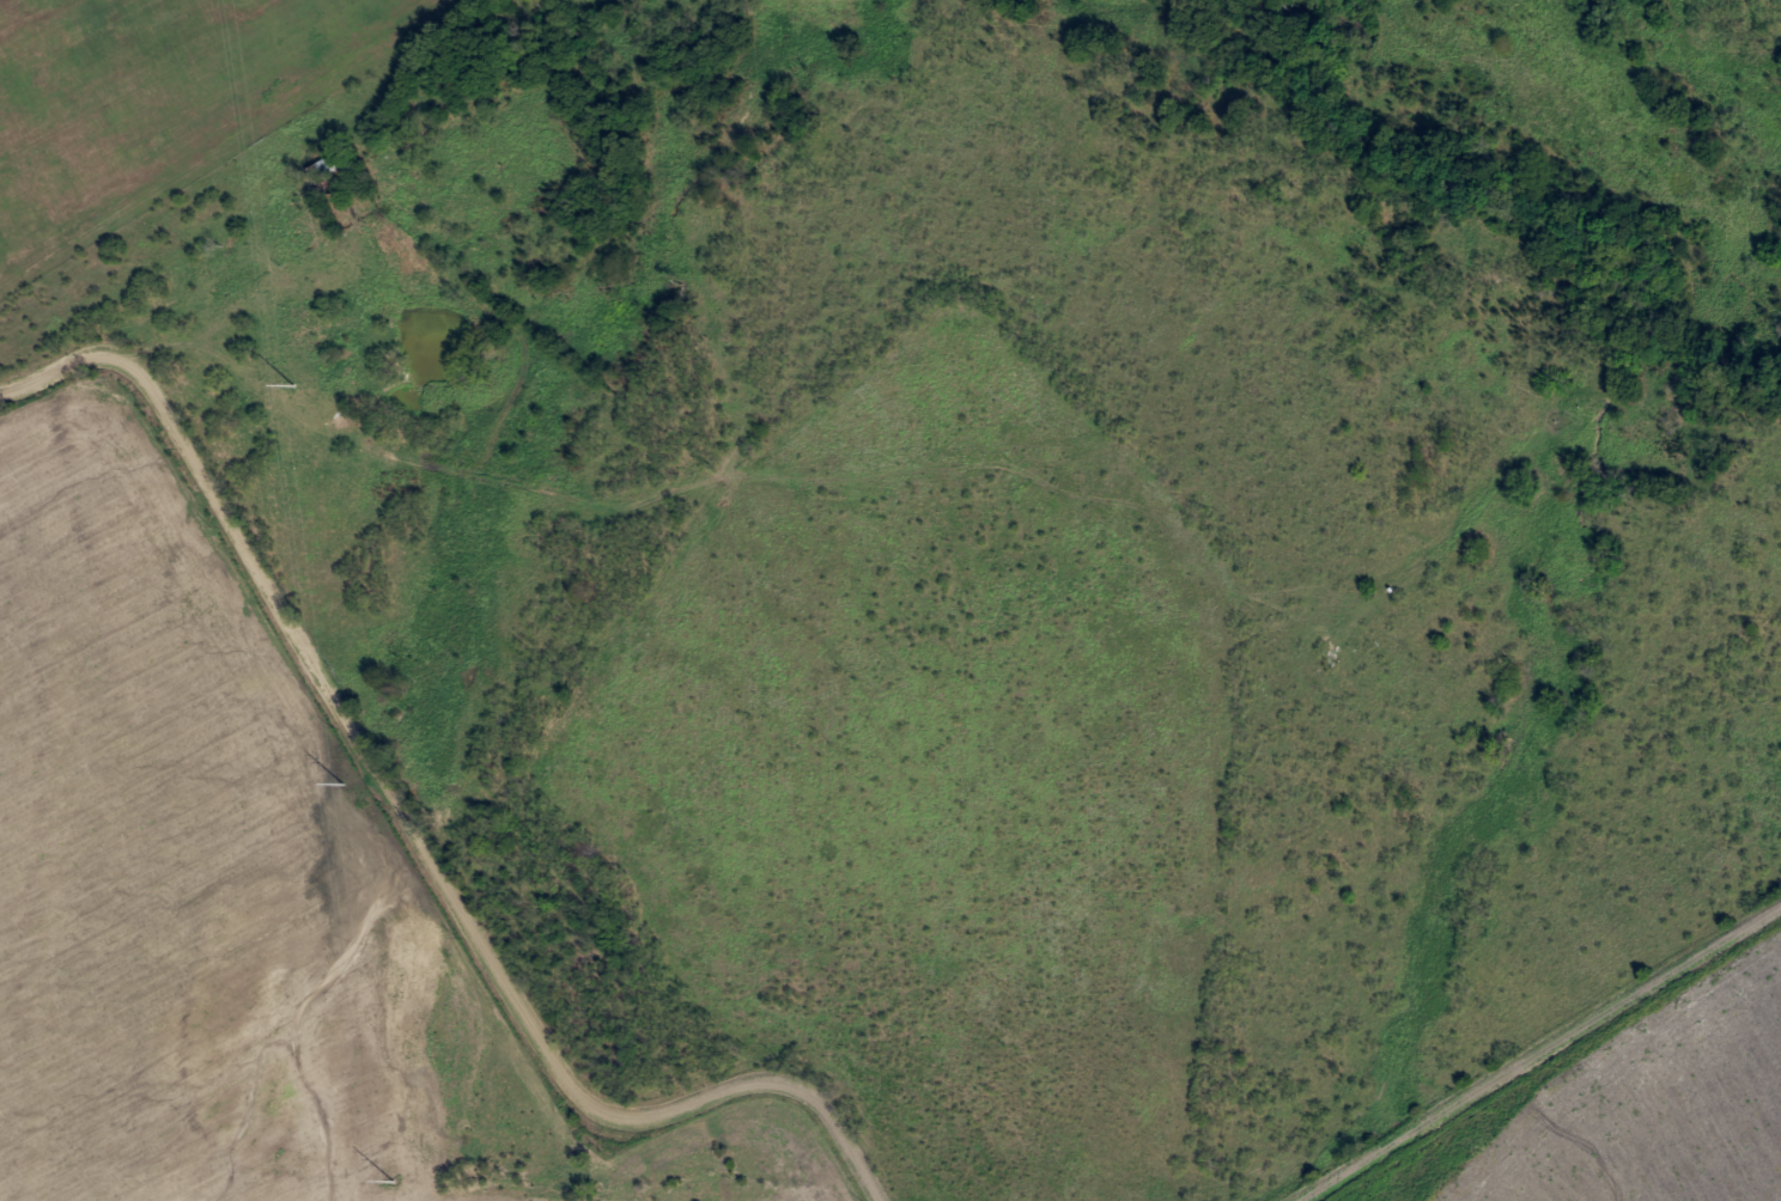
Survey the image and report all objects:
building: (323, 166)
road: (205, 286)
power tower: (293, 383)
power tower: (342, 782)
road: (412, 829)
road: (1540, 1050)
power tower: (393, 1178)

